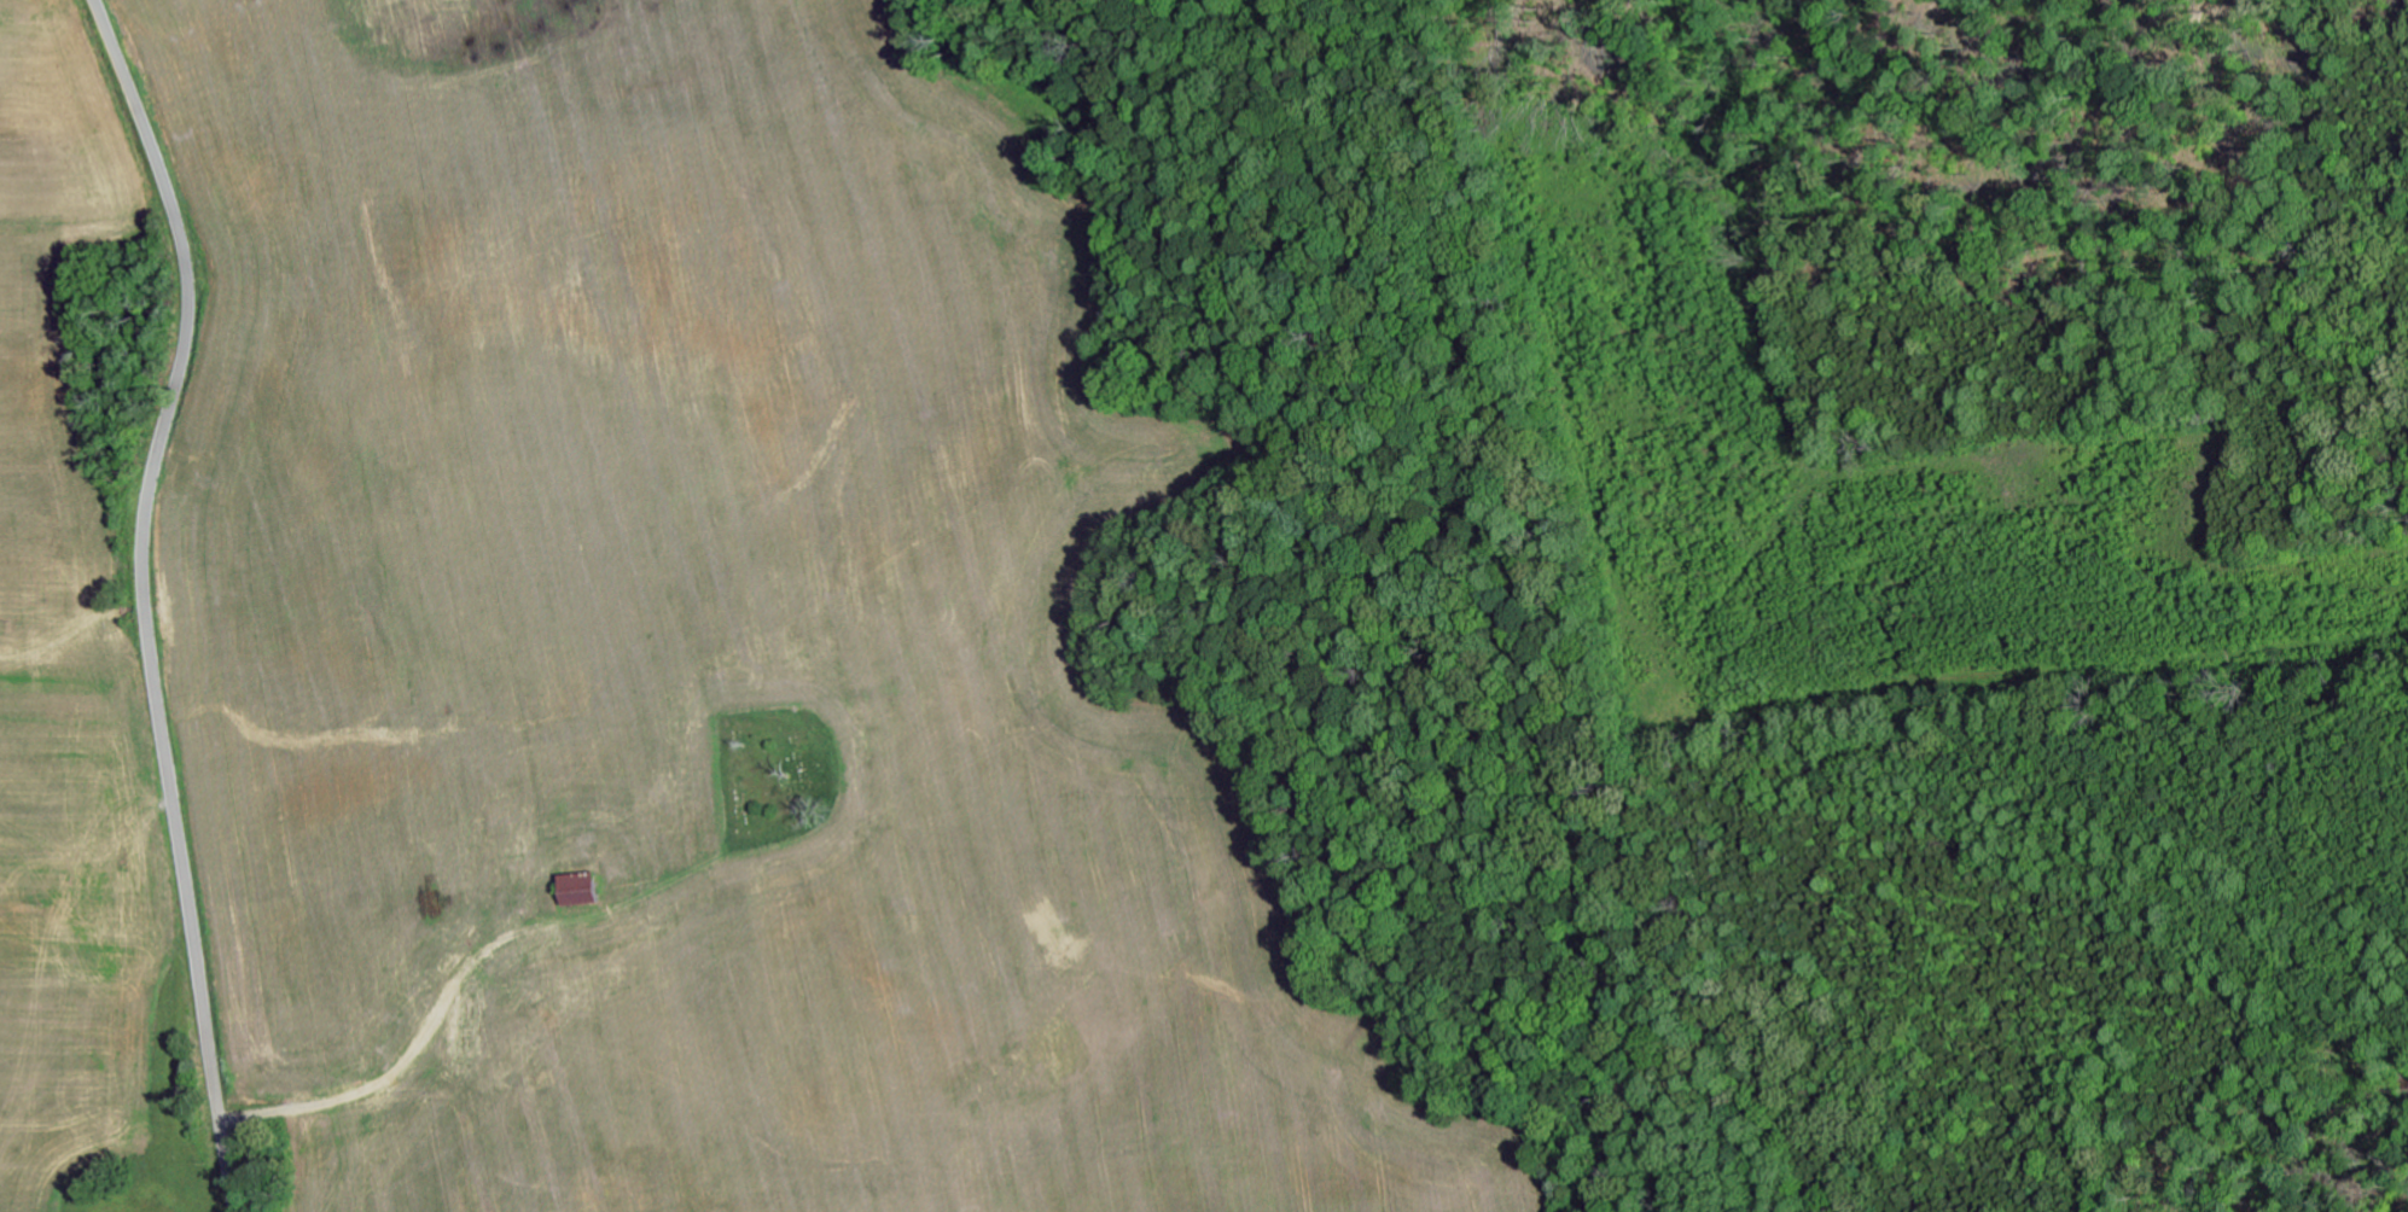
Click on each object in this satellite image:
road: (141, 598)
park: (780, 771)
building: (586, 888)
road: (368, 1045)

